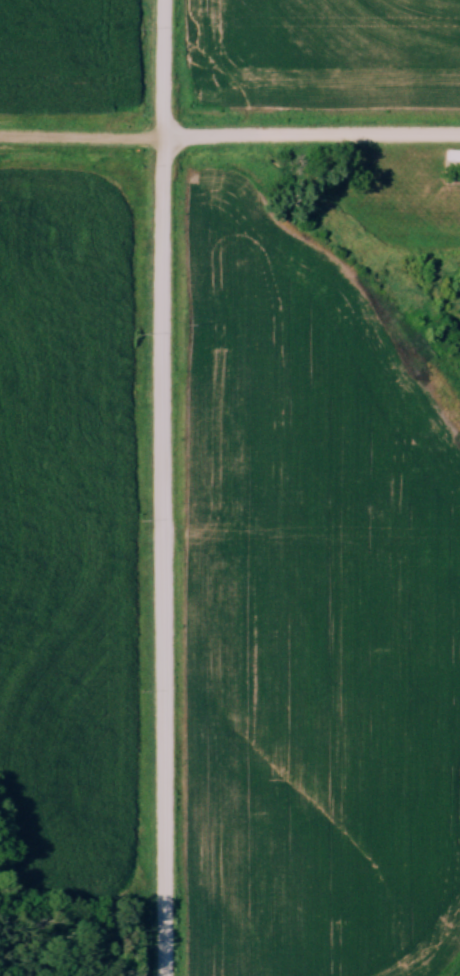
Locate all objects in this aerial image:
road: (230, 137)
building: (453, 155)
road: (163, 487)

